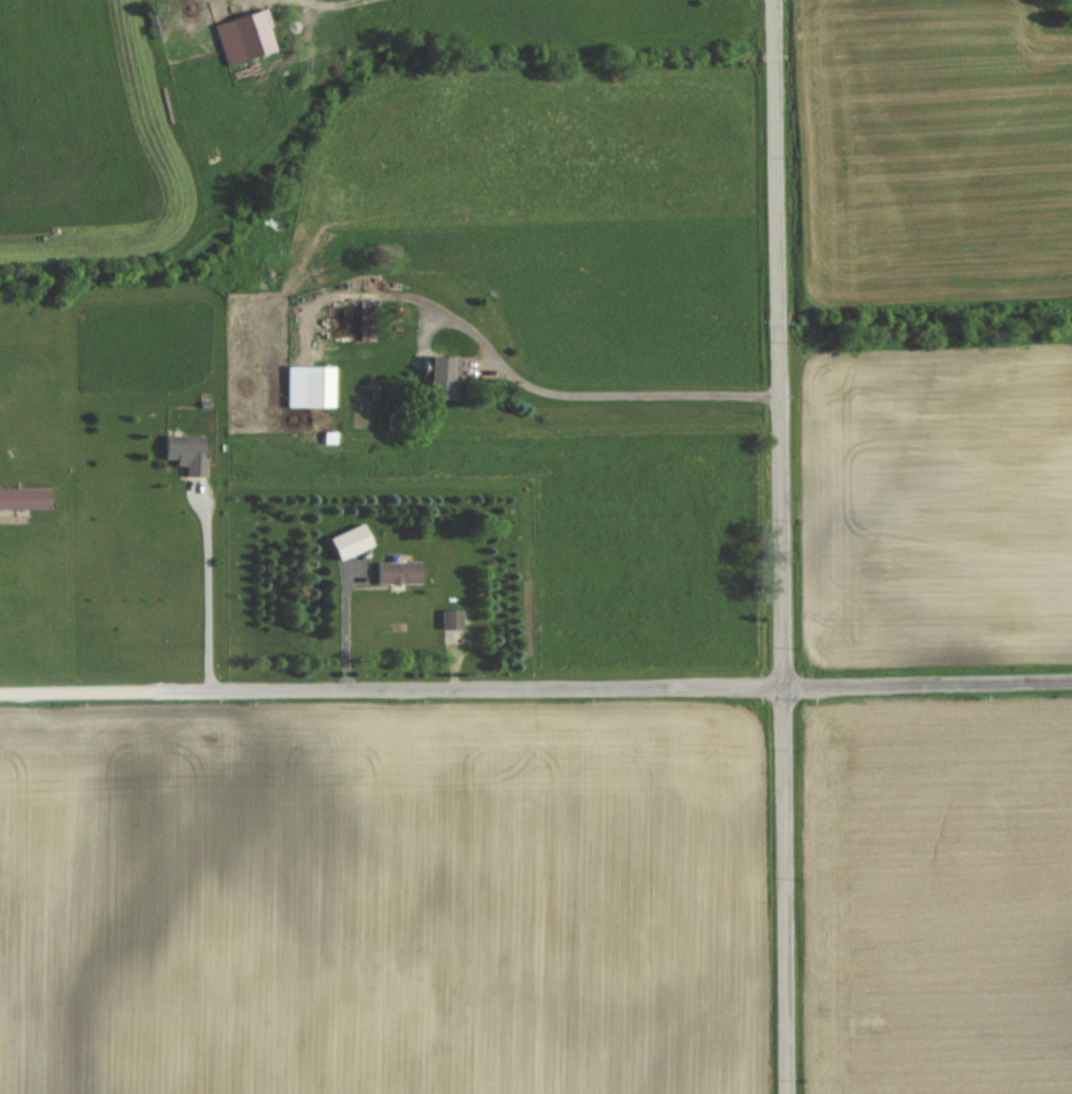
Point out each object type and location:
building: (244, 36)
building: (367, 320)
road: (594, 382)
building: (309, 386)
building: (436, 386)
building: (187, 453)
building: (24, 497)
road: (782, 546)
building: (399, 572)
road: (211, 600)
building: (451, 618)
road: (535, 687)

